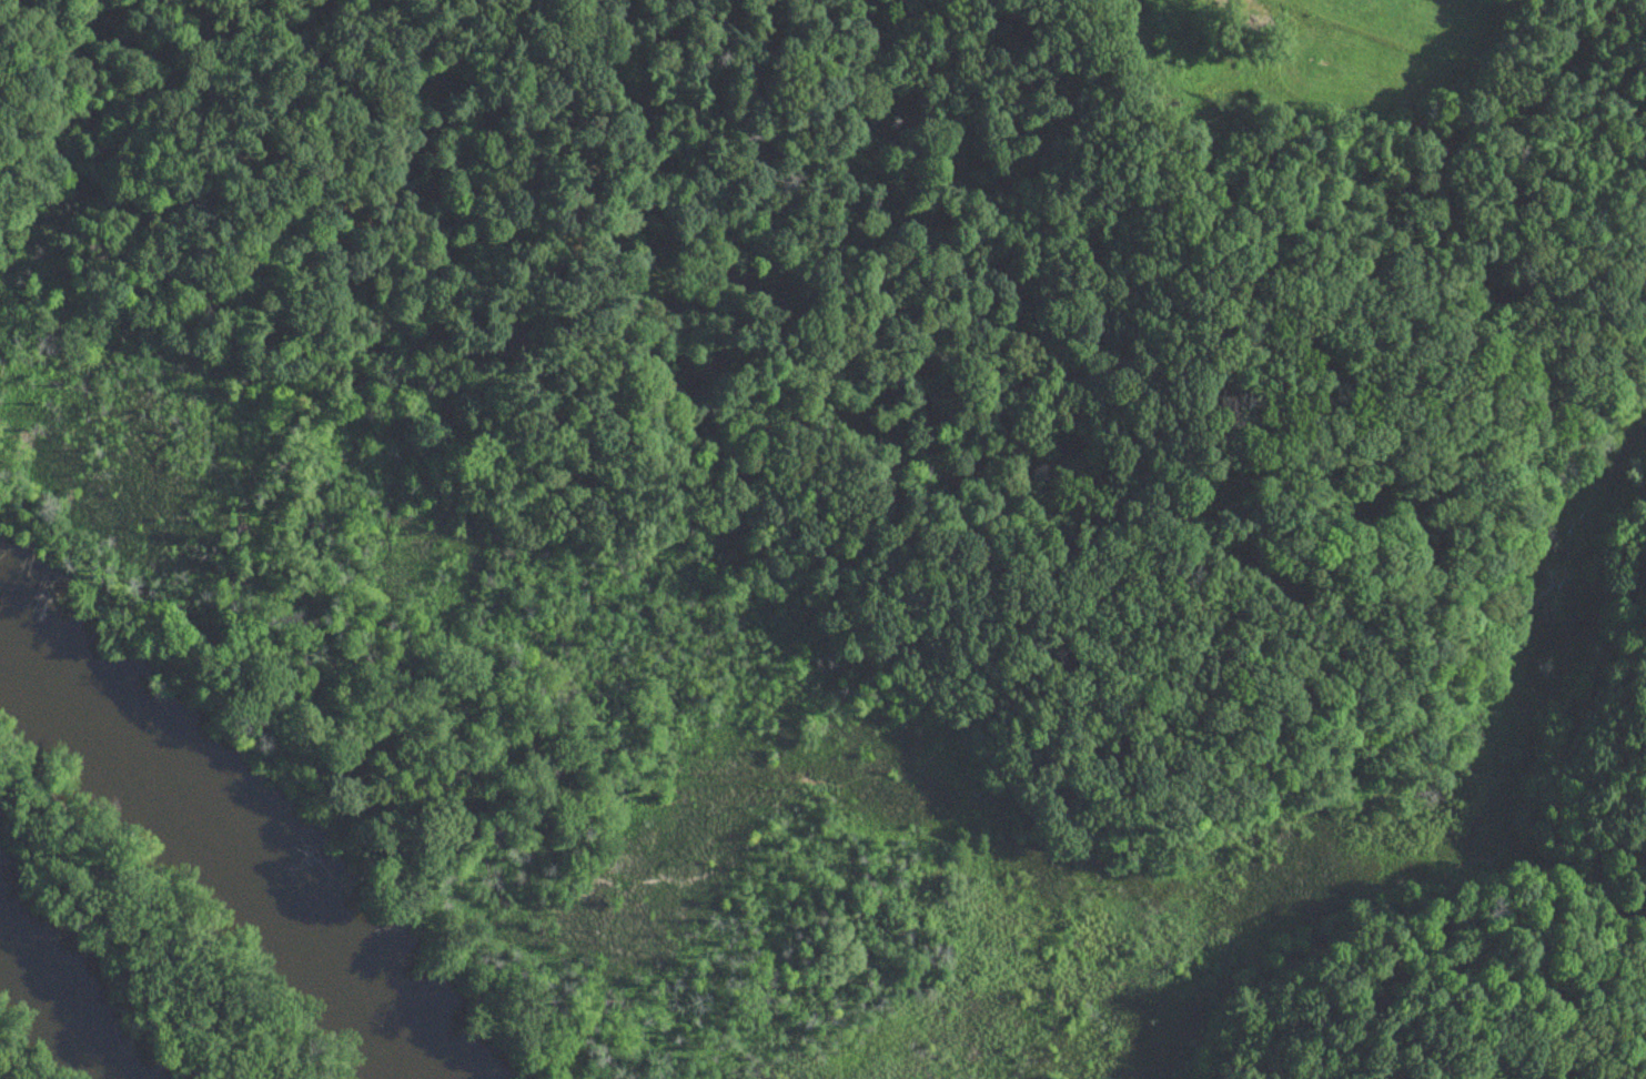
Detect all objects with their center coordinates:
road: (405, 262)
river: (231, 843)

